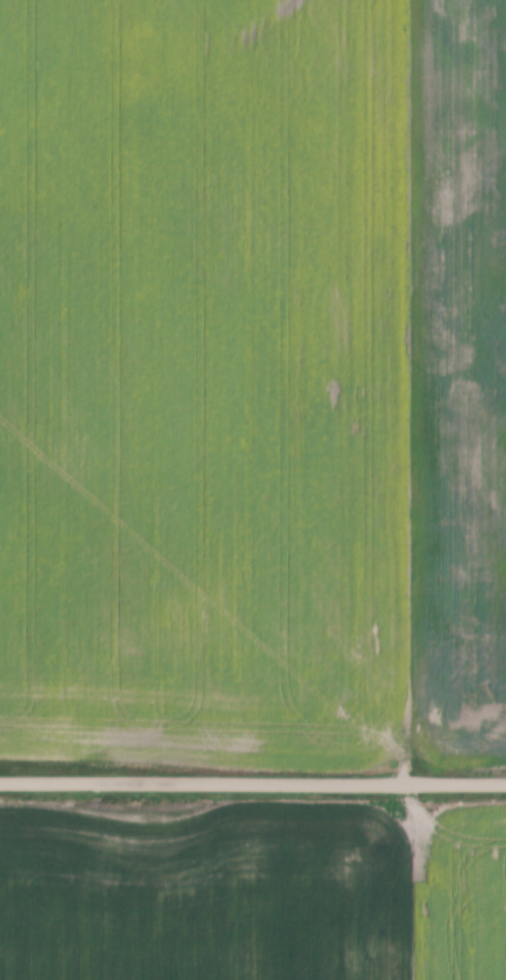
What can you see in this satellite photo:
road: (252, 784)

